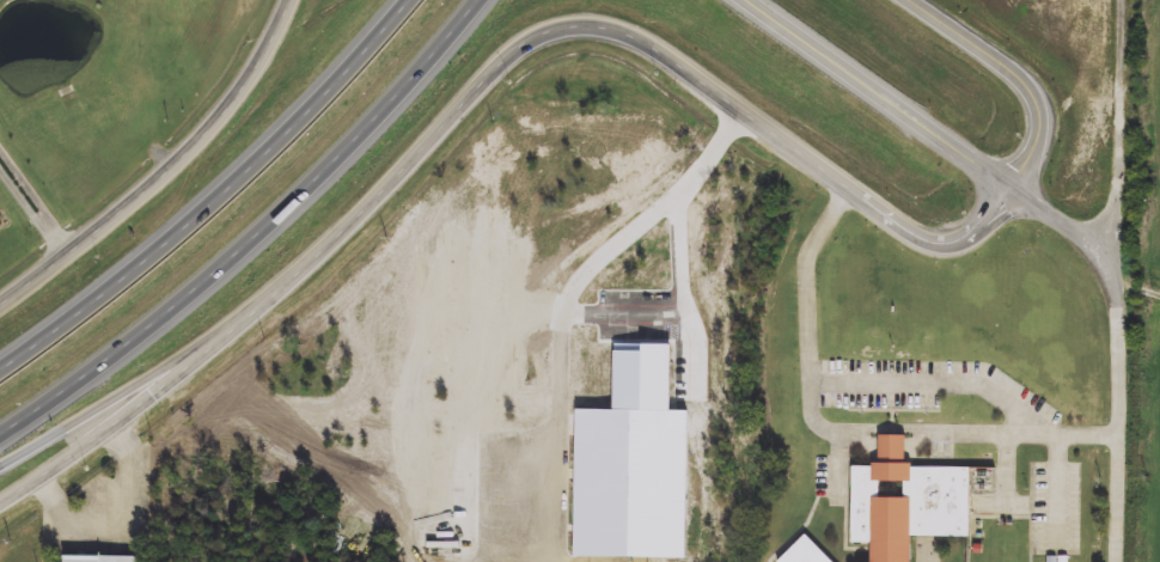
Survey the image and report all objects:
road: (1019, 75)
road: (481, 84)
road: (933, 132)
road: (1121, 138)
road: (169, 171)
road: (218, 197)
road: (32, 204)
road: (1008, 214)
road: (257, 237)
road: (593, 265)
road: (679, 309)
road: (136, 386)
road: (934, 386)
road: (1122, 417)
road: (844, 430)
road: (1009, 471)
road: (1060, 488)
building: (905, 503)
road: (111, 512)
building: (804, 554)
building: (97, 560)

